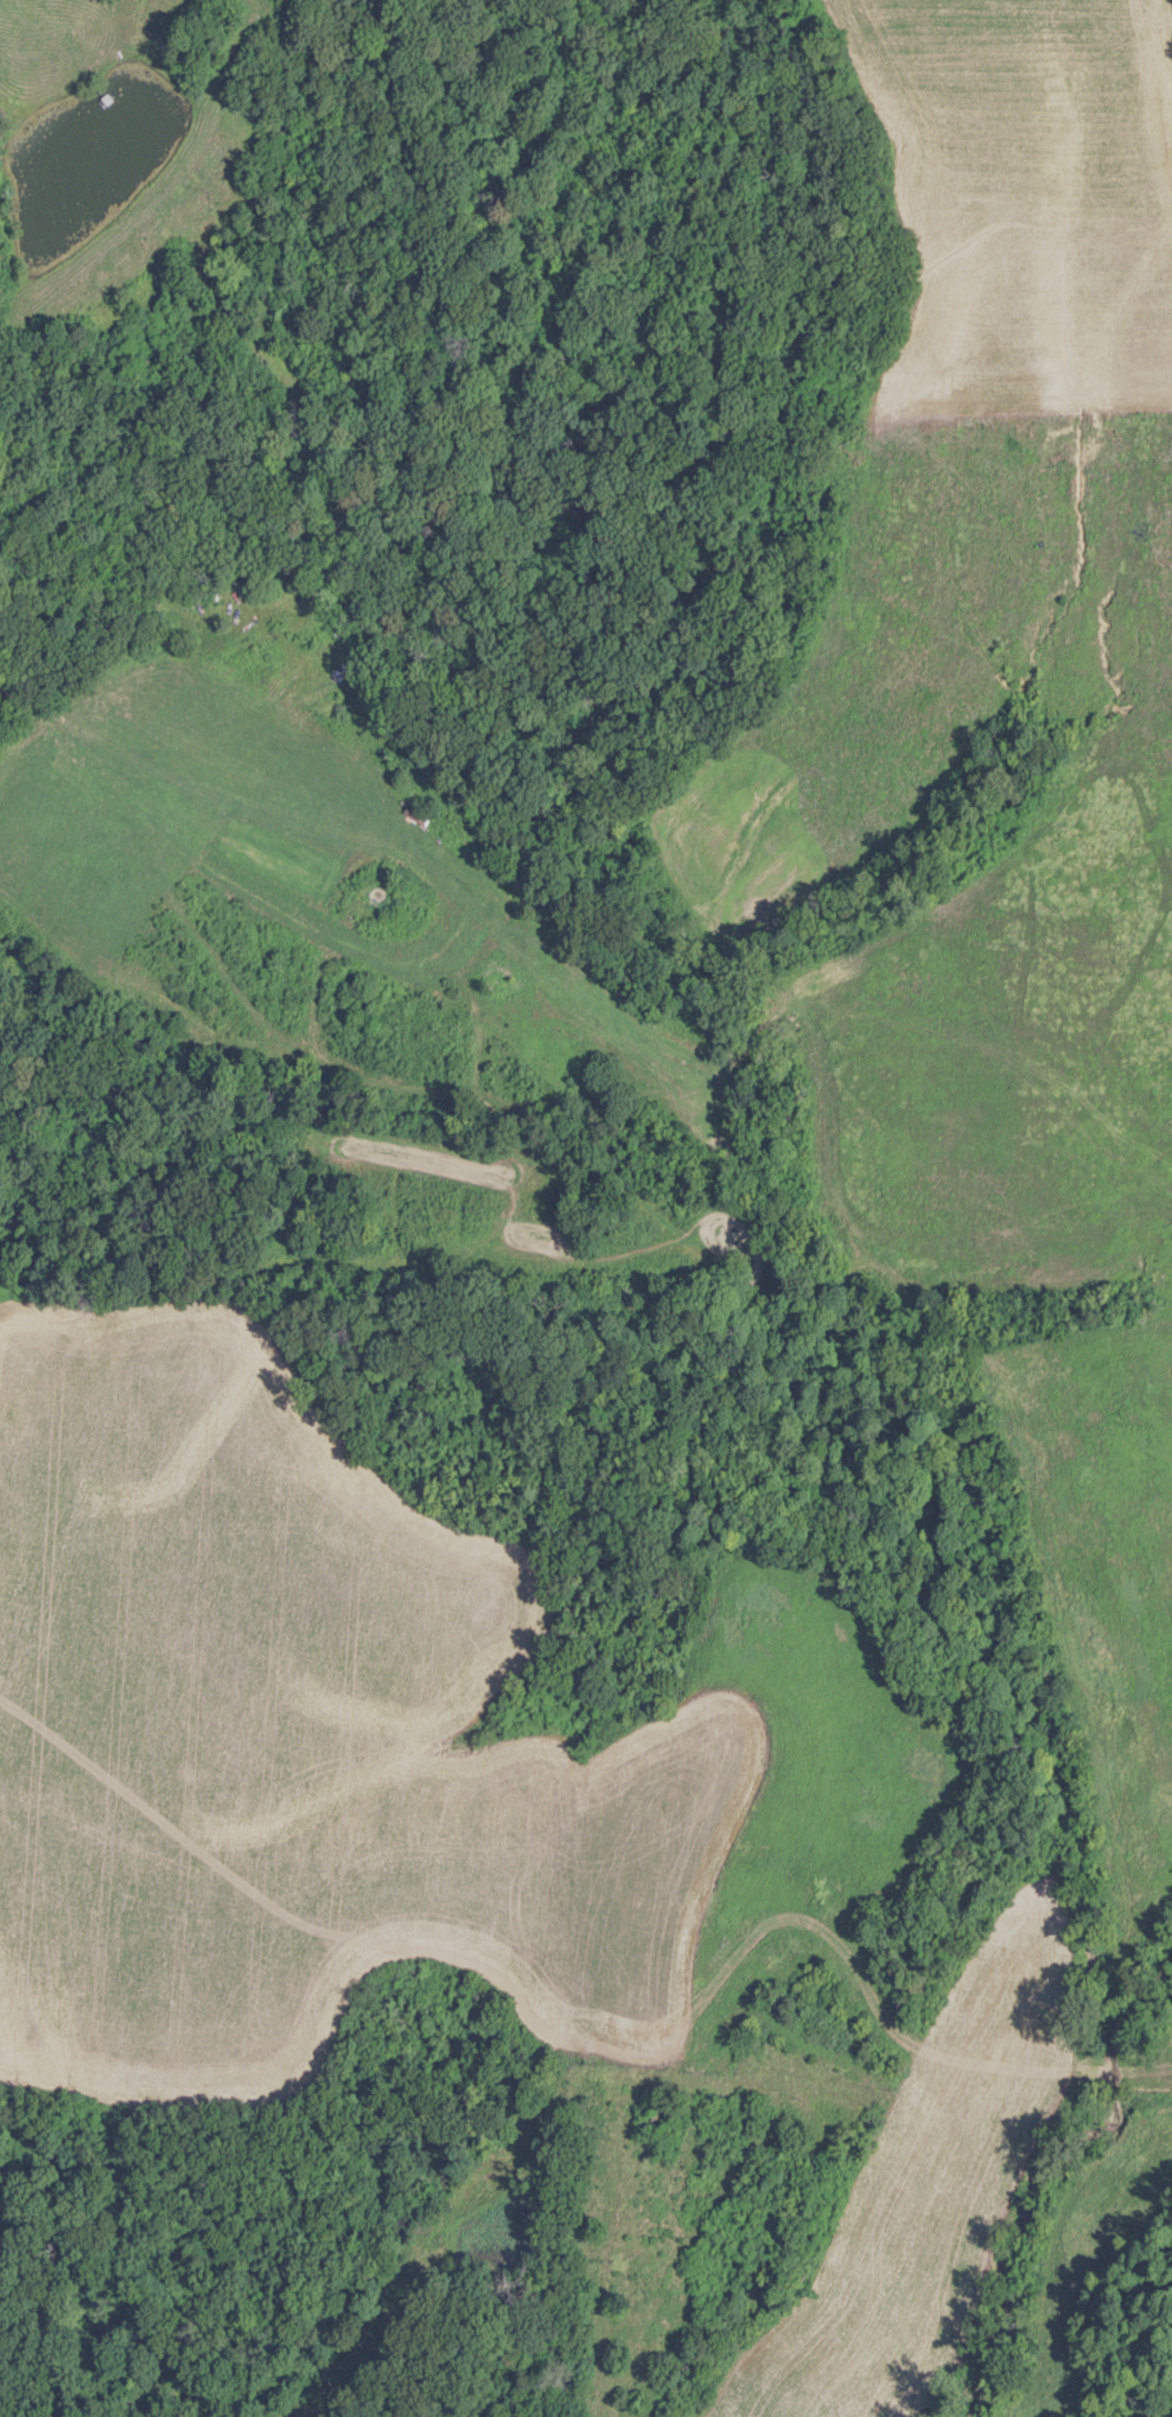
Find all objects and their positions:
road: (582, 2330)

